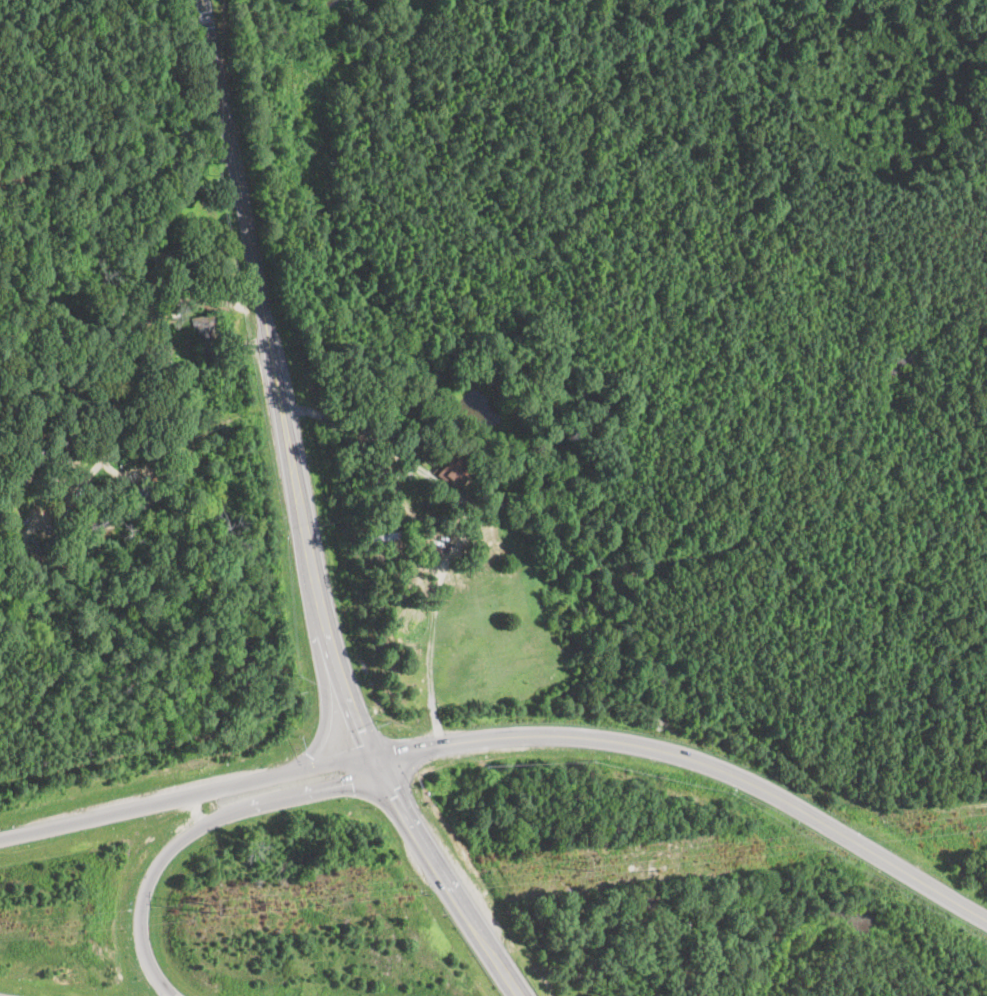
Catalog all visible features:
road: (245, 205)
building: (203, 338)
road: (119, 363)
building: (460, 475)
road: (462, 523)
building: (249, 657)
road: (356, 723)
road: (695, 761)
traffic signals: (371, 764)
road: (184, 796)
road: (192, 832)
power tower: (587, 864)
power tower: (206, 907)

